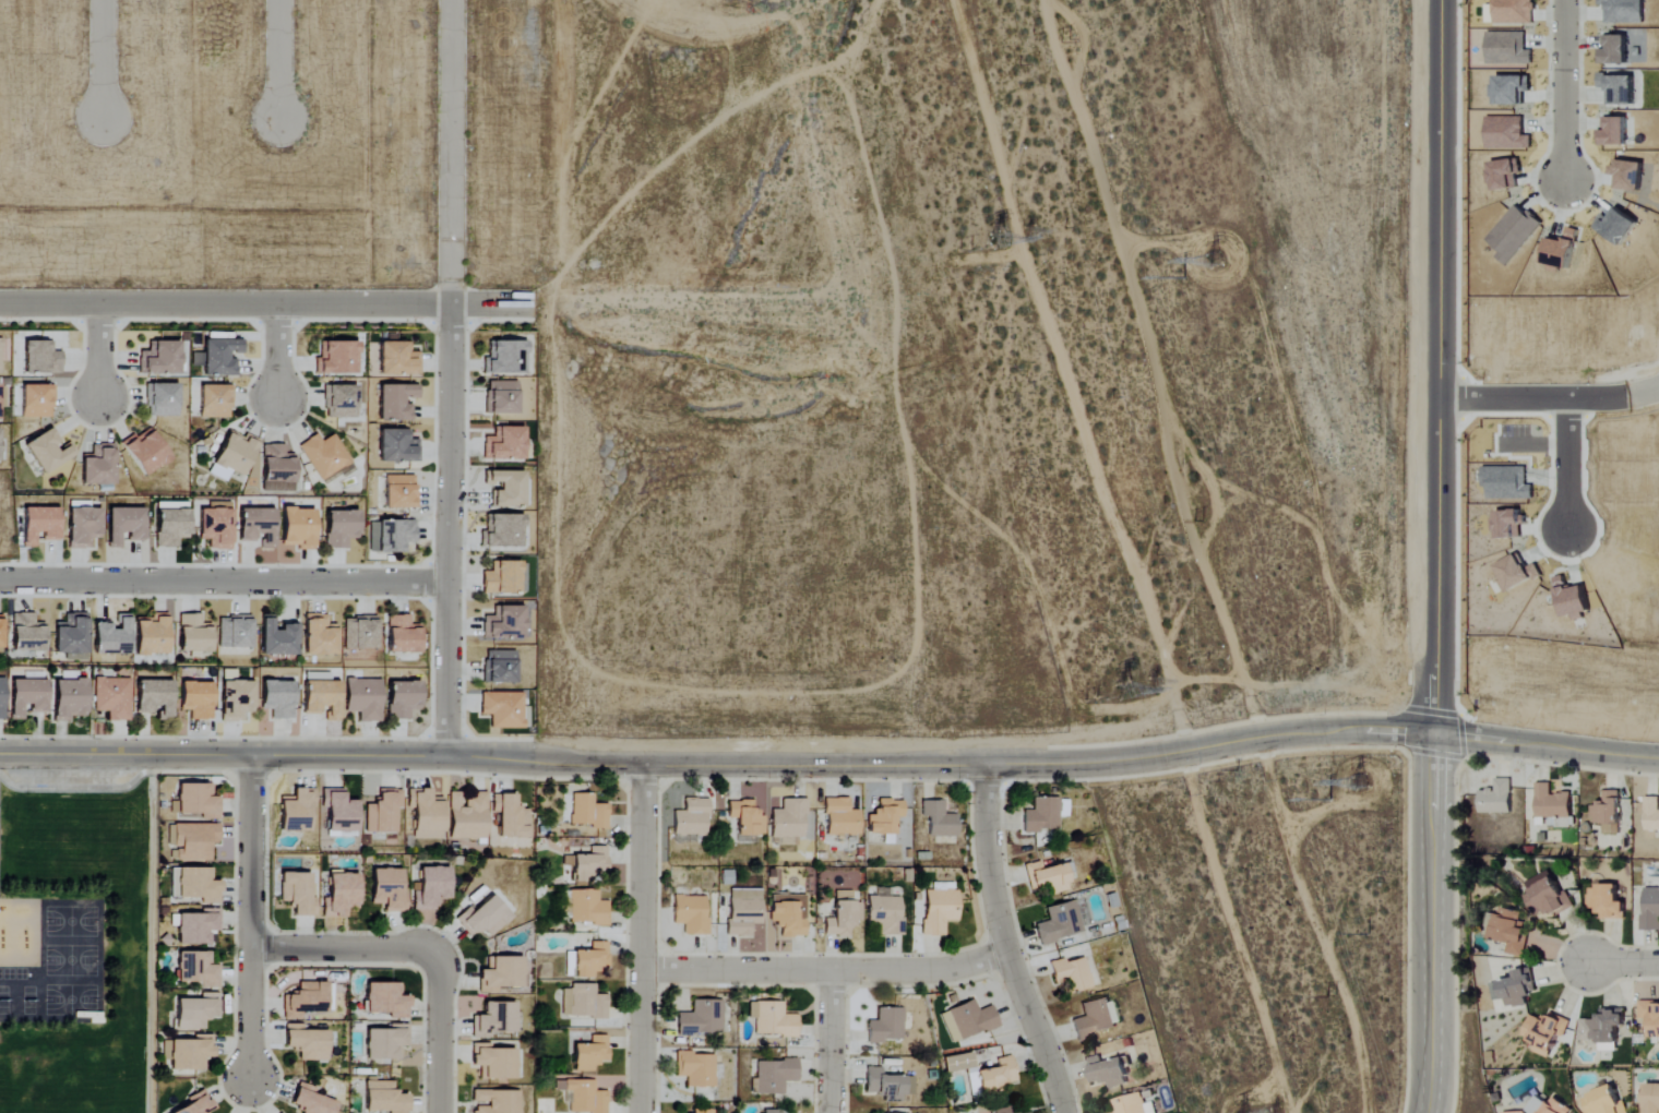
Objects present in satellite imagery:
building: (1515, 11)
building: (1624, 11)
power tower: (1051, 38)
building: (1508, 48)
building: (1615, 51)
road: (103, 59)
road: (281, 60)
road: (1568, 86)
building: (1620, 88)
building: (1511, 89)
building: (1616, 131)
building: (1507, 134)
building: (1505, 175)
building: (1631, 176)
building: (1620, 227)
power tower: (1012, 232)
building: (1514, 235)
power tower: (983, 237)
power tower: (965, 239)
building: (1560, 253)
power tower: (1216, 256)
road: (266, 303)
road: (97, 352)
road: (277, 352)
building: (1, 357)
building: (220, 357)
building: (40, 359)
building: (159, 359)
building: (336, 359)
building: (505, 359)
building: (398, 360)
road: (450, 376)
building: (2, 396)
building: (501, 398)
building: (162, 400)
building: (37, 402)
building: (215, 402)
road: (1548, 402)
building: (339, 403)
building: (396, 403)
building: (505, 444)
building: (397, 447)
building: (48, 452)
building: (145, 452)
building: (324, 456)
building: (232, 457)
building: (98, 466)
road: (1572, 466)
building: (277, 469)
building: (1507, 483)
building: (508, 489)
building: (399, 492)
building: (170, 524)
building: (216, 525)
building: (1509, 525)
building: (39, 526)
building: (124, 526)
power tower: (1198, 526)
building: (258, 527)
building: (83, 528)
building: (298, 528)
building: (341, 529)
building: (502, 532)
building: (391, 537)
road: (1433, 556)
building: (1517, 574)
building: (502, 579)
road: (223, 581)
building: (1574, 600)
building: (504, 624)
building: (26, 633)
building: (235, 633)
building: (360, 633)
building: (1, 634)
building: (194, 635)
building: (151, 636)
building: (320, 636)
building: (403, 636)
building: (72, 637)
building: (112, 638)
building: (278, 638)
building: (500, 668)
power tower: (1151, 684)
power tower: (1097, 691)
power tower: (1121, 691)
building: (321, 695)
building: (1, 697)
building: (27, 697)
building: (111, 698)
building: (154, 698)
building: (69, 699)
building: (277, 699)
building: (363, 699)
building: (403, 699)
building: (196, 701)
building: (236, 701)
building: (502, 710)
road: (832, 766)
power tower: (1361, 783)
building: (1497, 798)
building: (198, 800)
building: (1553, 802)
building: (296, 811)
building: (339, 811)
building: (383, 812)
building: (587, 812)
building: (1609, 812)
building: (1652, 813)
building: (426, 814)
building: (510, 815)
building: (1041, 815)
building: (467, 816)
building: (885, 816)
building: (691, 817)
building: (745, 817)
building: (842, 818)
building: (789, 819)
building: (939, 819)
building: (192, 840)
building: (589, 863)
building: (1048, 878)
building: (194, 884)
building: (431, 888)
building: (387, 889)
building: (297, 893)
building: (339, 894)
building: (843, 895)
building: (1549, 895)
building: (1609, 901)
building: (588, 908)
building: (1651, 910)
building: (743, 911)
building: (939, 911)
building: (690, 913)
building: (788, 914)
building: (883, 915)
building: (482, 917)
road: (249, 918)
building: (842, 918)
building: (1059, 923)
building: (195, 926)
building: (1514, 929)
power tower: (1364, 933)
road: (641, 938)
road: (1004, 944)
road: (346, 948)
building: (592, 959)
road: (1623, 964)
building: (196, 969)
road: (824, 969)
building: (500, 973)
building: (1071, 973)
building: (1516, 988)
power tower: (1327, 997)
building: (306, 1000)
building: (385, 1000)
building: (583, 1002)
building: (195, 1010)
building: (1650, 1014)
building: (702, 1018)
building: (1094, 1018)
building: (494, 1019)
building: (772, 1019)
building: (967, 1020)
building: (886, 1026)
building: (1604, 1029)
building: (1545, 1034)
road: (438, 1038)
road: (829, 1041)
building: (307, 1042)
building: (384, 1042)
building: (190, 1052)
building: (590, 1053)
building: (493, 1062)
building: (958, 1062)
building: (696, 1069)
building: (1108, 1072)
building: (775, 1075)
building: (996, 1076)
building: (887, 1085)
building: (583, 1096)
building: (382, 1098)
building: (1651, 1100)
building: (311, 1101)
building: (494, 1101)
building: (1606, 1101)
building: (196, 1103)
building: (1135, 1103)
power tower: (1246, 1104)
building: (1551, 1106)
building: (1002, 1110)
building: (701, 1111)
building: (769, 1111)
building: (1026, 1112)
building: (1517, 1112)

